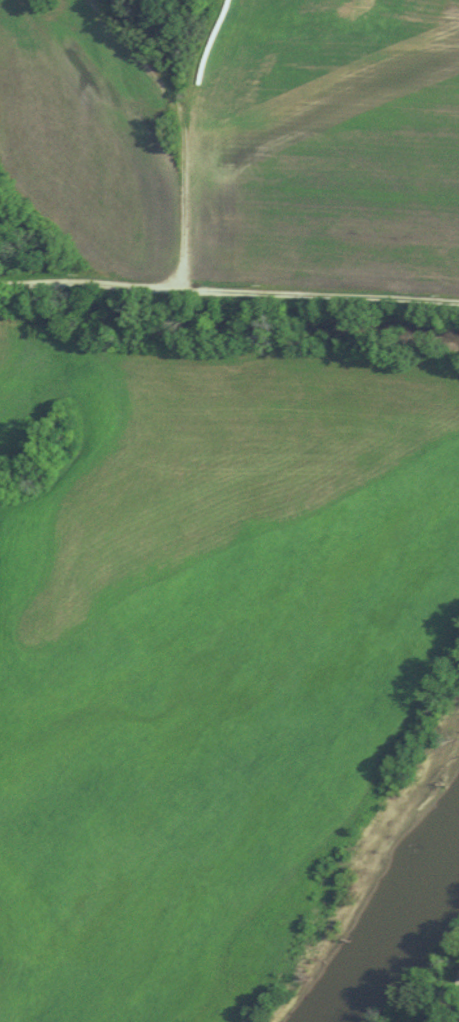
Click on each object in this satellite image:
road: (184, 144)
road: (229, 292)
river: (393, 910)
road: (448, 999)

